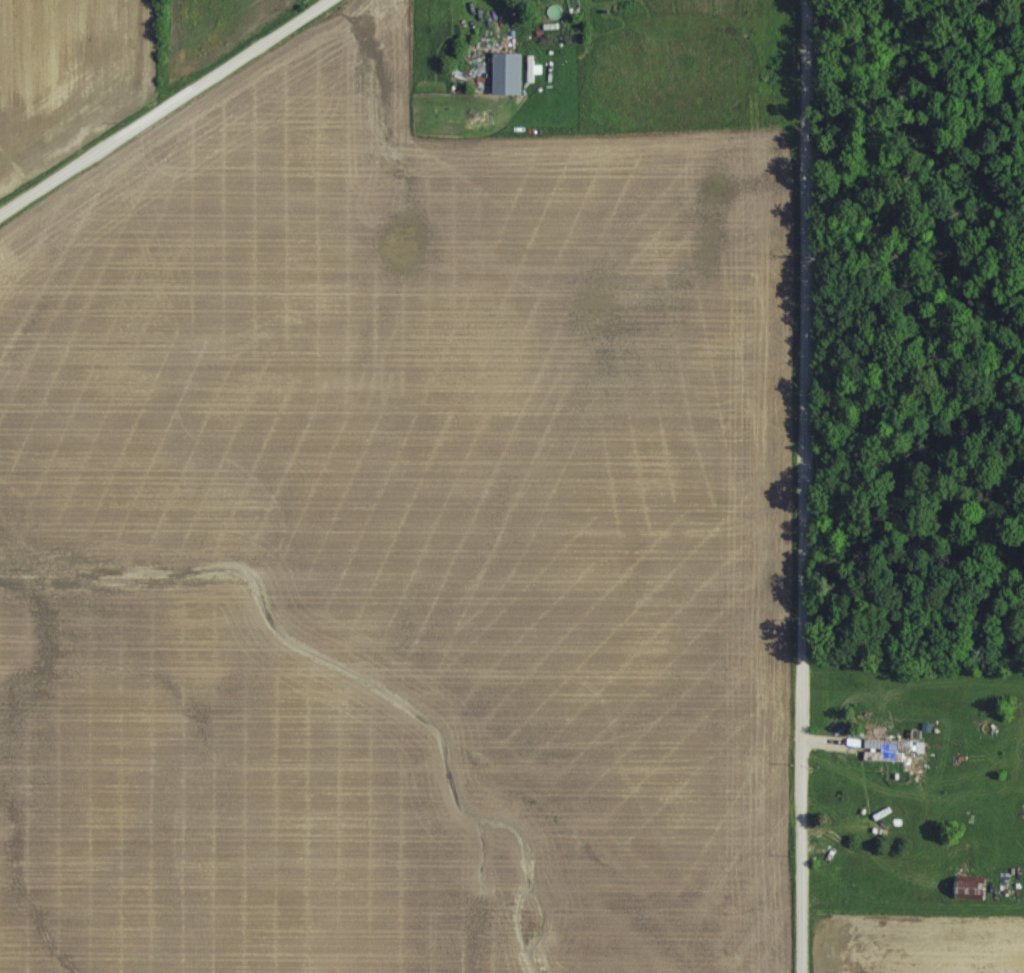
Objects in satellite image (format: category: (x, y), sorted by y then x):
building: (506, 71)
road: (152, 101)
road: (794, 486)
building: (969, 887)

